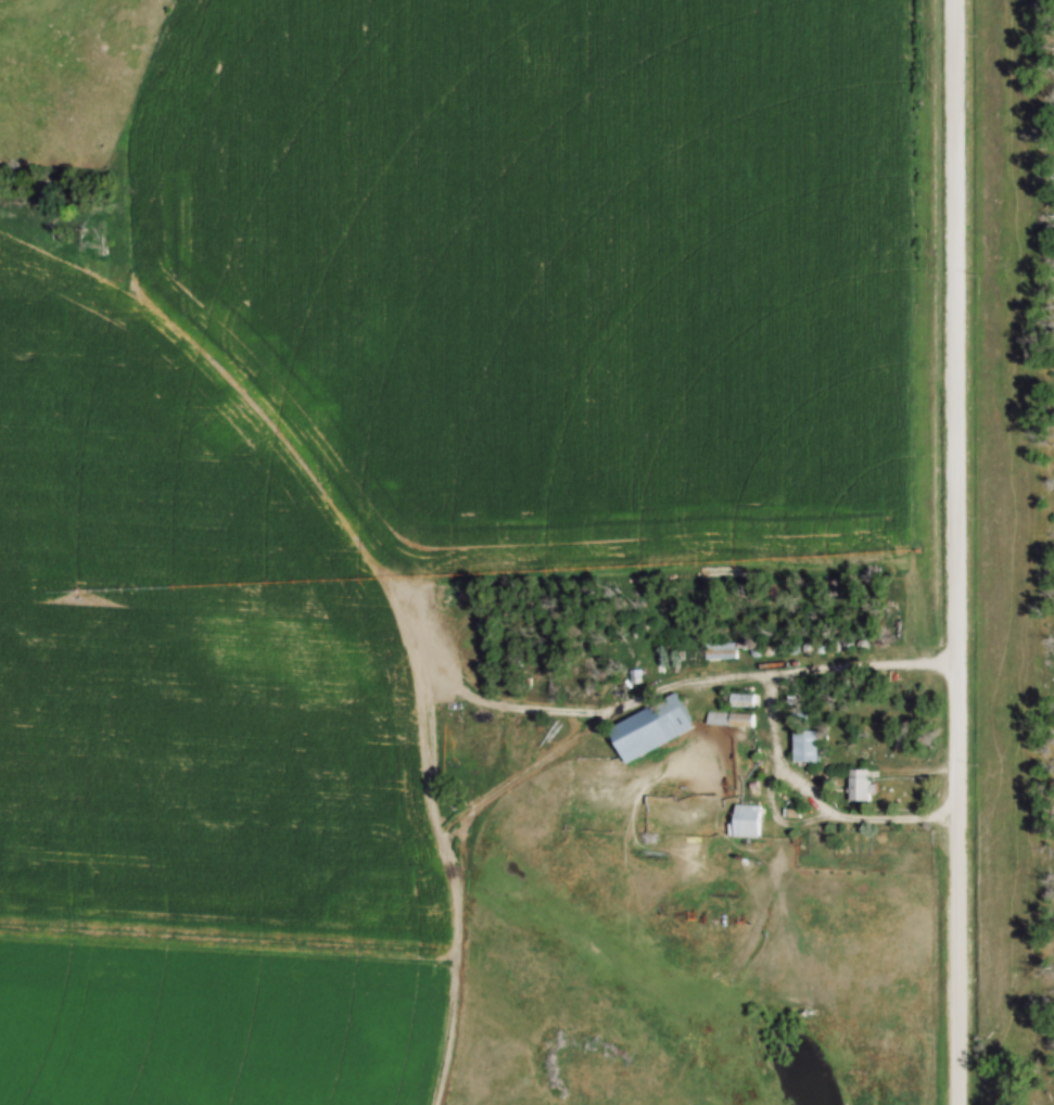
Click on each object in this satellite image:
road: (957, 551)
building: (721, 651)
building: (729, 721)
road: (777, 727)
building: (651, 728)
building: (809, 747)
building: (860, 786)
building: (748, 822)

